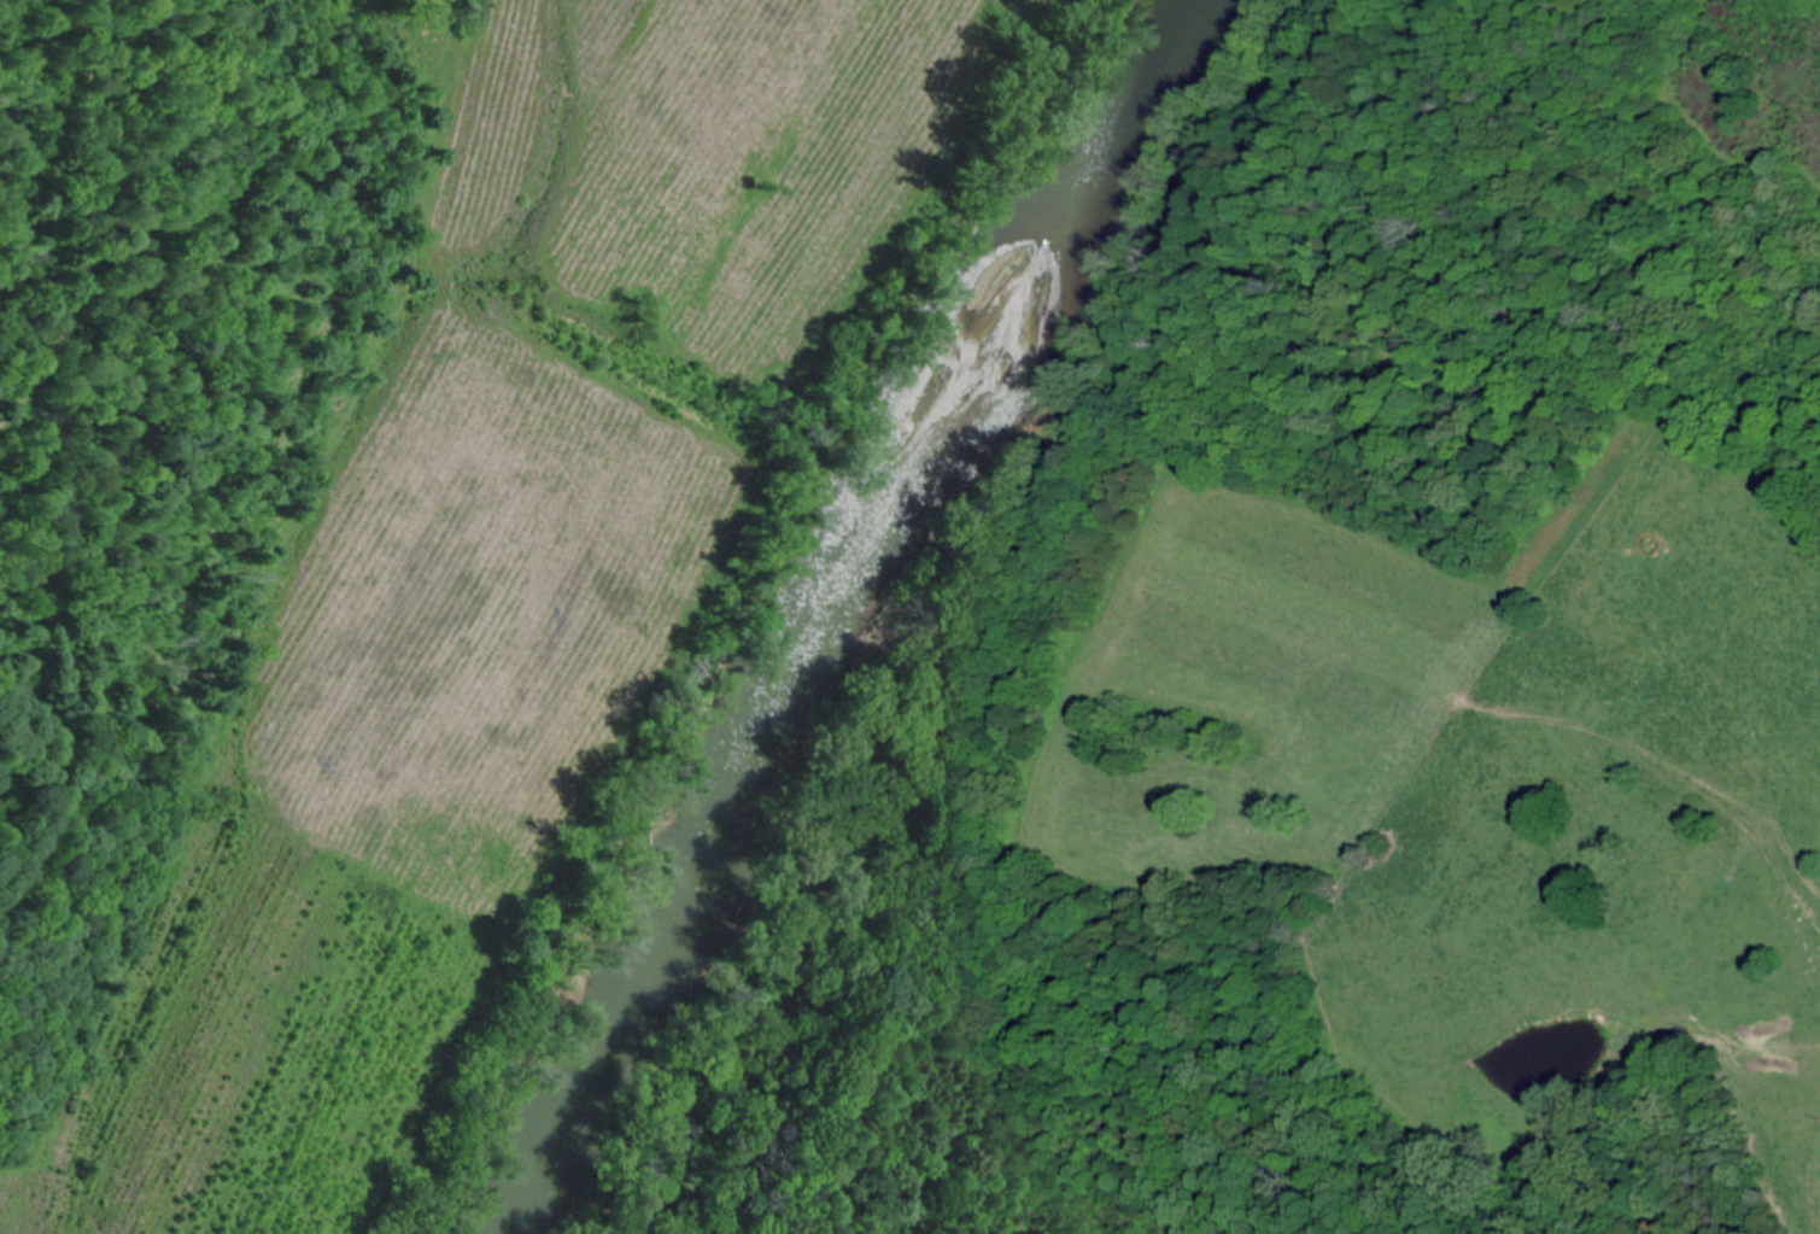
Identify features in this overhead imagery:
river: (831, 608)

